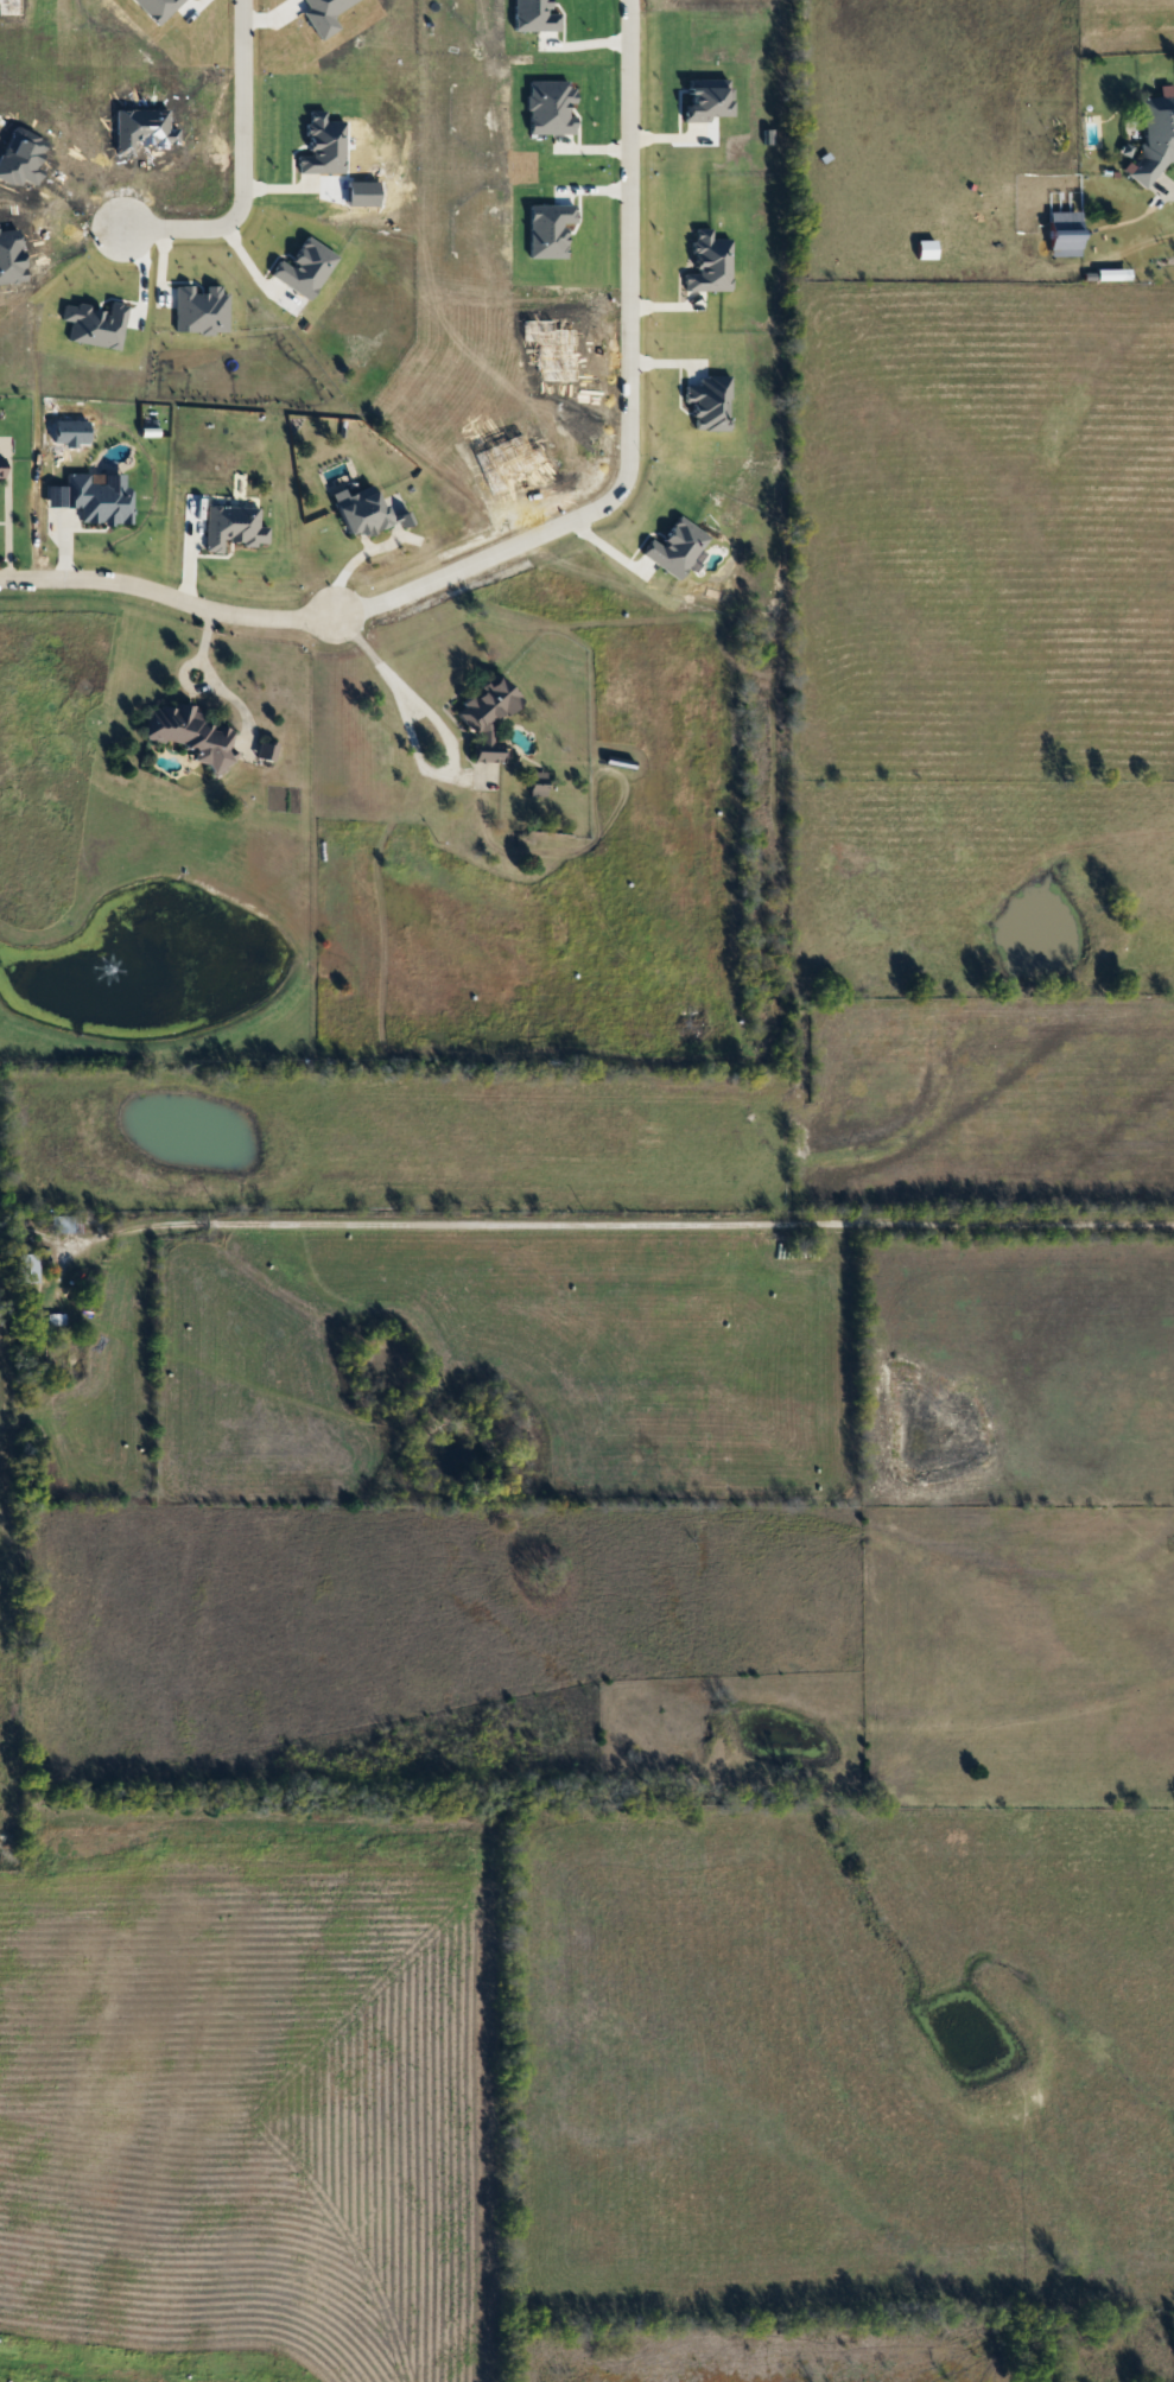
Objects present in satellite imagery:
building: (1151, 135)
road: (239, 163)
building: (1062, 226)
building: (5, 466)
building: (367, 510)
road: (547, 526)
road: (350, 565)
road: (385, 674)
road: (204, 678)
building: (493, 716)
building: (193, 732)
building: (69, 1224)
road: (584, 1224)
building: (32, 1266)
building: (56, 1319)

